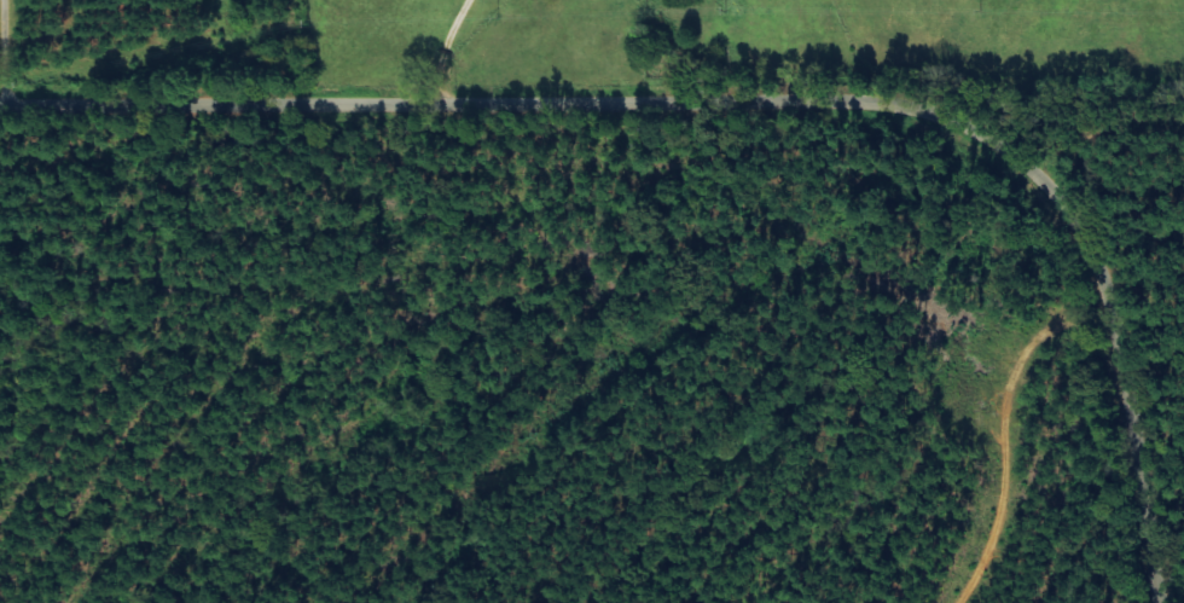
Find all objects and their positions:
road: (7, 53)
road: (755, 102)

